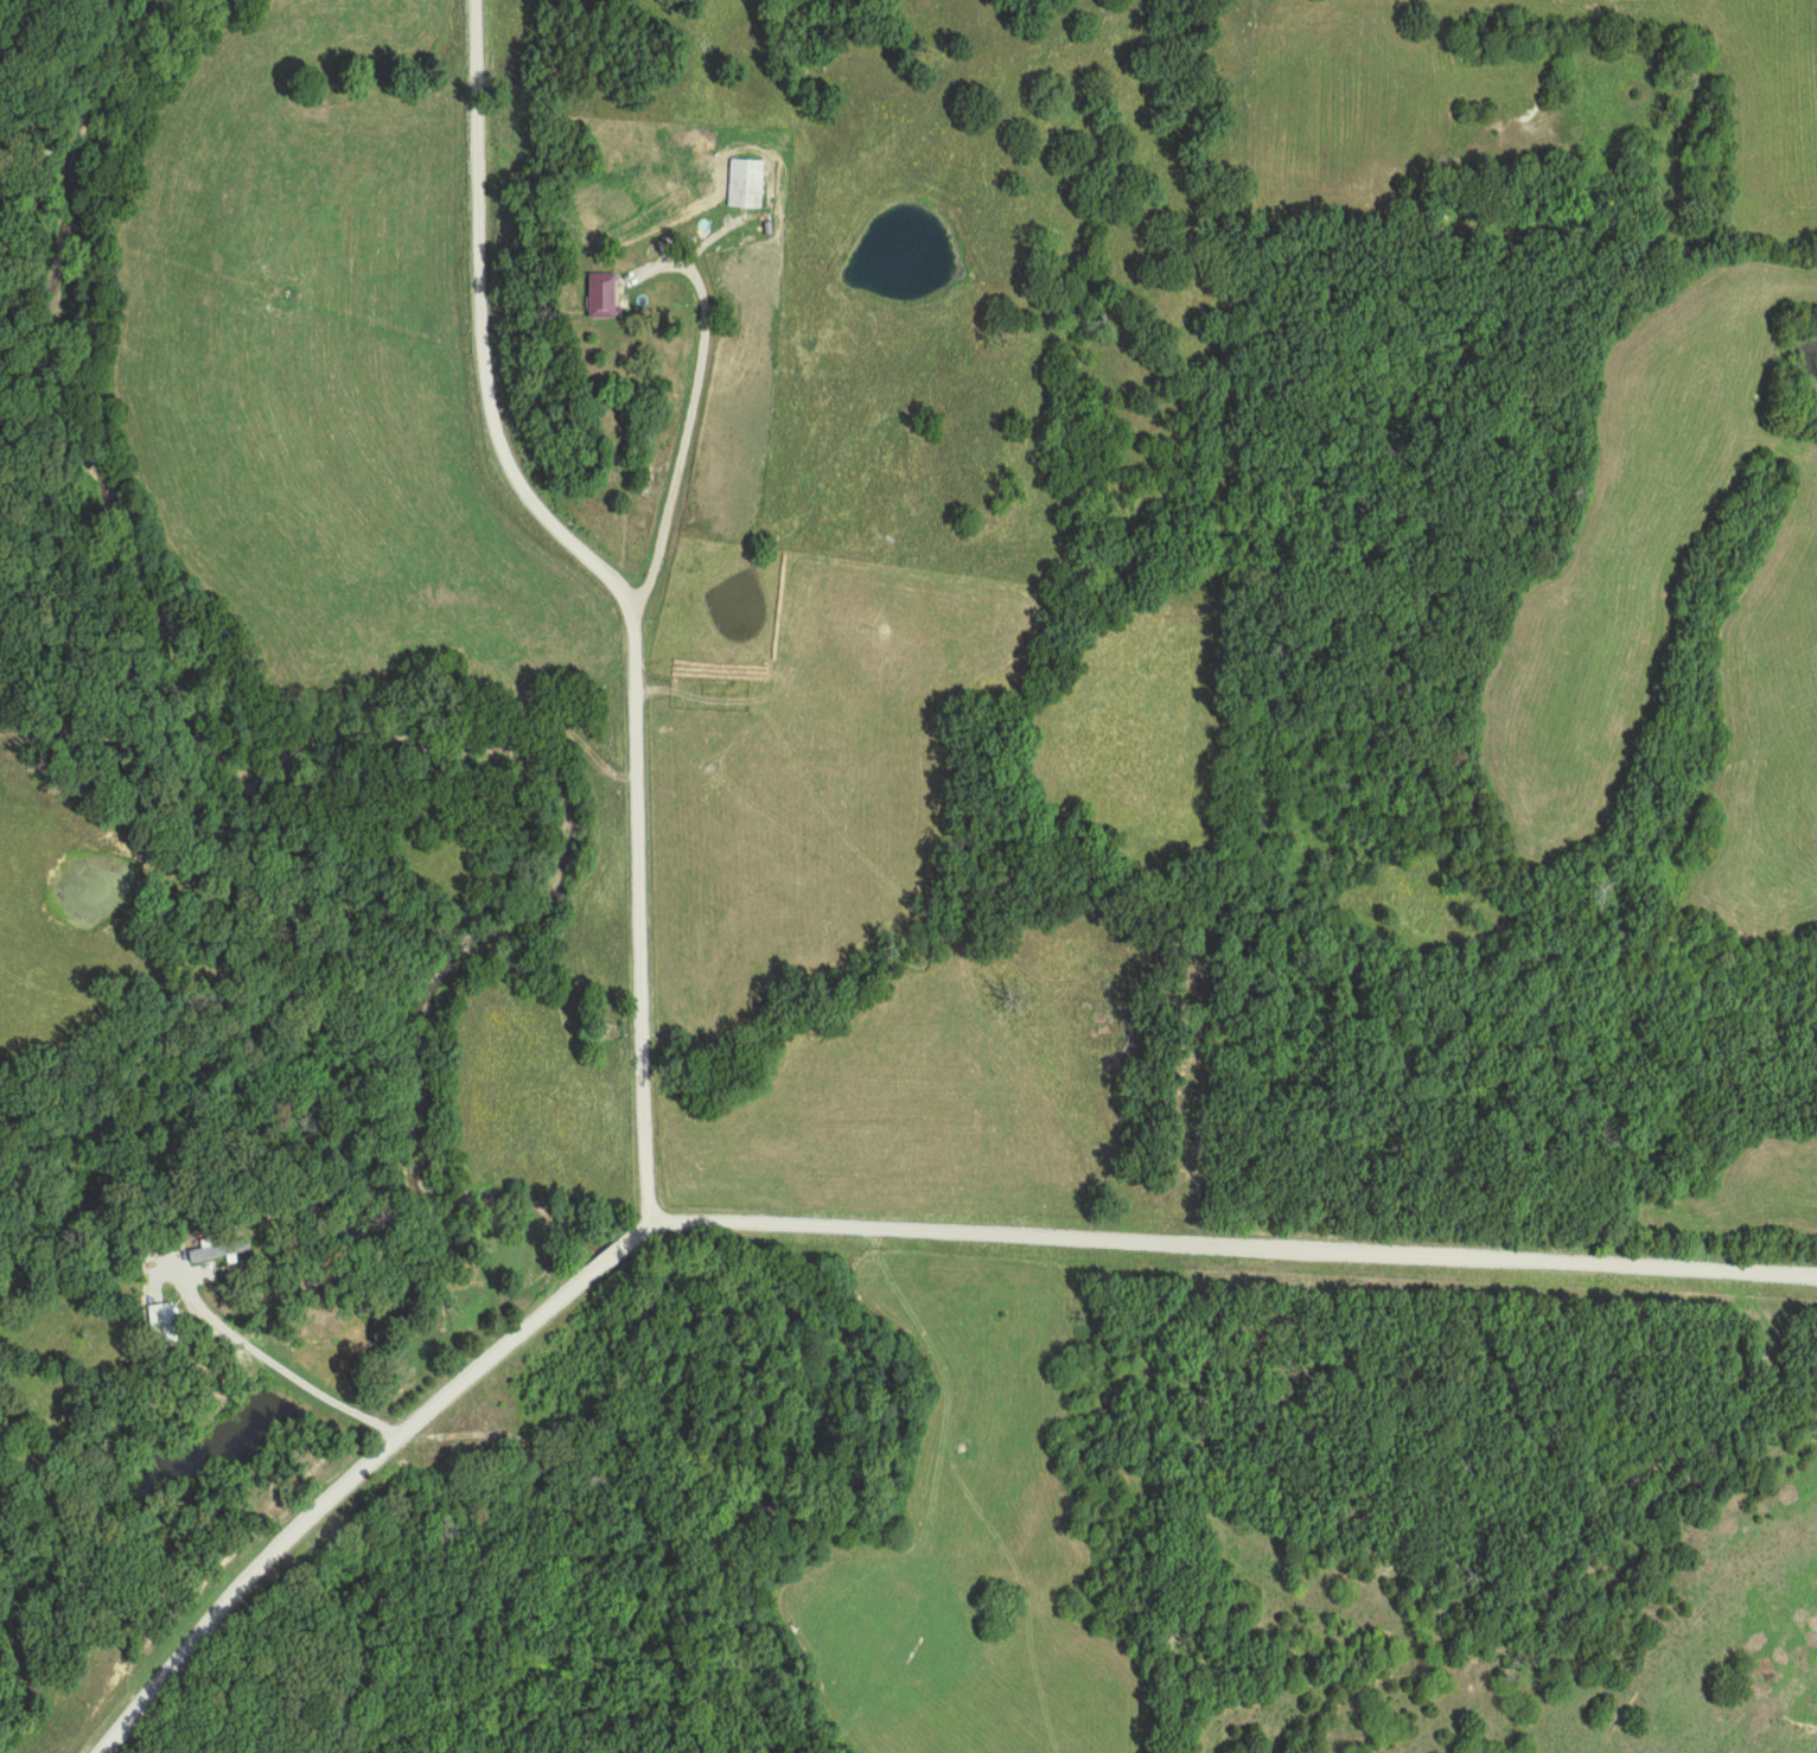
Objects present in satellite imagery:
road: (1041, 9)
building: (746, 184)
building: (601, 297)
road: (693, 376)
road: (621, 588)
road: (848, 1228)
building: (219, 1250)
building: (162, 1324)
road: (288, 1373)

